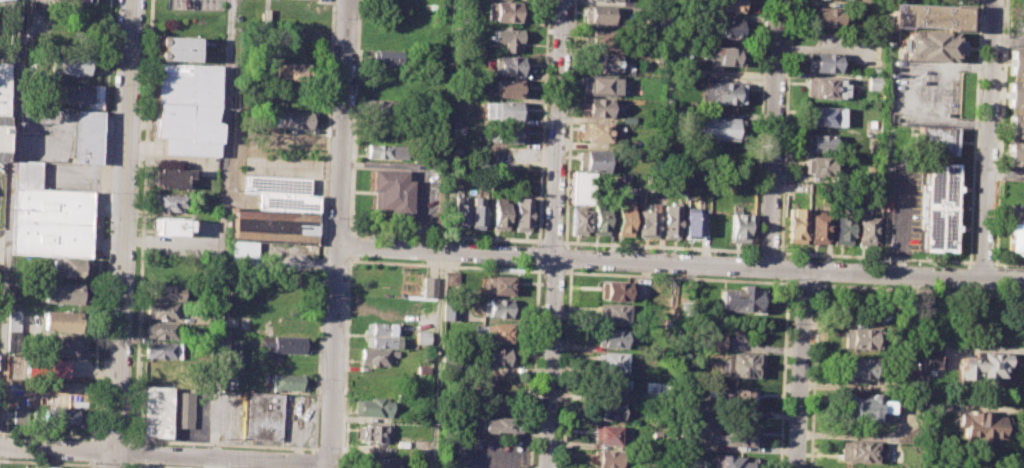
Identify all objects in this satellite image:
building: (74, 0)
building: (617, 0)
parking lot: (195, 4)
building: (5, 5)
building: (730, 5)
building: (505, 12)
building: (601, 16)
building: (926, 16)
building: (827, 17)
street lamp: (334, 18)
building: (656, 22)
building: (727, 30)
street lamp: (549, 35)
parking lot: (5, 36)
building: (507, 40)
building: (600, 40)
road: (1008, 40)
building: (930, 45)
building: (178, 48)
street lamp: (1001, 54)
building: (720, 57)
building: (390, 59)
building: (600, 62)
building: (1016, 62)
building: (828, 63)
building: (69, 66)
building: (509, 66)
building: (296, 71)
building: (875, 82)
building: (602, 85)
building: (827, 87)
building: (510, 88)
road: (906, 91)
building: (721, 92)
parking lot: (923, 92)
building: (75, 94)
building: (1015, 94)
building: (3, 106)
building: (381, 106)
building: (598, 107)
building: (188, 108)
building: (509, 111)
street lamp: (330, 116)
building: (457, 116)
street lamp: (546, 116)
building: (825, 116)
building: (297, 119)
road: (542, 122)
road: (569, 123)
road: (761, 126)
road: (785, 126)
building: (1015, 126)
building: (717, 127)
road: (558, 129)
road: (975, 131)
road: (1001, 131)
building: (595, 132)
building: (508, 133)
road: (773, 134)
building: (87, 136)
building: (936, 140)
road: (989, 140)
building: (827, 143)
street lamp: (998, 146)
building: (388, 151)
building: (1015, 153)
street lamp: (782, 155)
building: (595, 160)
building: (823, 166)
road: (1006, 173)
building: (28, 174)
building: (171, 178)
building: (579, 189)
building: (282, 192)
building: (393, 193)
building: (169, 202)
parking lot: (898, 202)
street lamp: (542, 204)
building: (940, 207)
road: (351, 211)
building: (460, 212)
building: (477, 212)
building: (500, 214)
building: (522, 214)
road: (8, 216)
building: (625, 216)
street lamp: (325, 218)
road: (101, 219)
building: (579, 219)
building: (601, 219)
building: (671, 220)
road: (142, 221)
building: (650, 221)
building: (52, 222)
road: (901, 222)
building: (693, 223)
building: (273, 225)
road: (322, 225)
building: (739, 225)
building: (170, 226)
building: (796, 226)
road: (222, 227)
building: (819, 227)
building: (843, 229)
building: (866, 230)
road: (338, 233)
road: (120, 234)
street lamp: (361, 235)
building: (1015, 235)
road: (552, 241)
street lamp: (529, 244)
road: (350, 245)
street lamp: (994, 245)
road: (660, 246)
street lamp: (778, 246)
parking lot: (1, 249)
street lamp: (630, 250)
road: (445, 252)
road: (768, 252)
street lamp: (730, 254)
road: (538, 255)
road: (566, 257)
road: (875, 257)
road: (350, 260)
street lamp: (835, 260)
road: (982, 262)
road: (1008, 263)
street lamp: (926, 264)
street lamp: (999, 267)
building: (66, 268)
road: (788, 270)
road: (553, 271)
building: (166, 272)
road: (678, 277)
street lamp: (543, 282)
road: (802, 283)
building: (498, 286)
street lamp: (323, 287)
building: (429, 287)
road: (917, 288)
building: (614, 290)
building: (167, 292)
street lamp: (813, 292)
building: (63, 293)
building: (740, 300)
building: (500, 307)
building: (163, 311)
building: (449, 314)
building: (613, 314)
building: (14, 320)
building: (61, 321)
building: (233, 323)
building: (288, 326)
road: (2, 328)
building: (383, 329)
building: (163, 330)
building: (497, 333)
building: (422, 337)
building: (859, 338)
street lamp: (540, 339)
building: (612, 339)
building: (383, 342)
building: (716, 342)
building: (285, 345)
building: (66, 347)
building: (162, 350)
building: (235, 355)
building: (378, 356)
building: (932, 356)
building: (500, 357)
road: (436, 360)
building: (612, 362)
road: (550, 363)
building: (740, 365)
building: (985, 365)
road: (533, 366)
road: (565, 367)
building: (47, 368)
road: (799, 369)
building: (858, 369)
road: (783, 375)
road: (814, 376)
building: (494, 381)
building: (289, 383)
building: (615, 386)
building: (653, 390)
building: (737, 399)
building: (493, 403)
building: (373, 407)
building: (872, 408)
building: (156, 409)
building: (184, 409)
building: (610, 411)
building: (19, 416)
building: (61, 416)
building: (262, 416)
street lamp: (537, 424)
building: (497, 425)
building: (980, 425)
building: (374, 433)
road: (49, 434)
building: (606, 435)
road: (113, 437)
building: (737, 437)
road: (222, 444)
street lamp: (317, 446)
road: (327, 448)
road: (91, 450)
building: (859, 451)
parking lot: (484, 452)
road: (132, 453)
road: (164, 453)
building: (421, 455)
building: (606, 458)
road: (341, 459)
road: (314, 460)
road: (49, 462)
road: (207, 462)
building: (379, 462)
building: (732, 462)
road: (91, 464)
road: (132, 465)
road: (112, 466)
building: (31, 467)
road: (141, 467)

